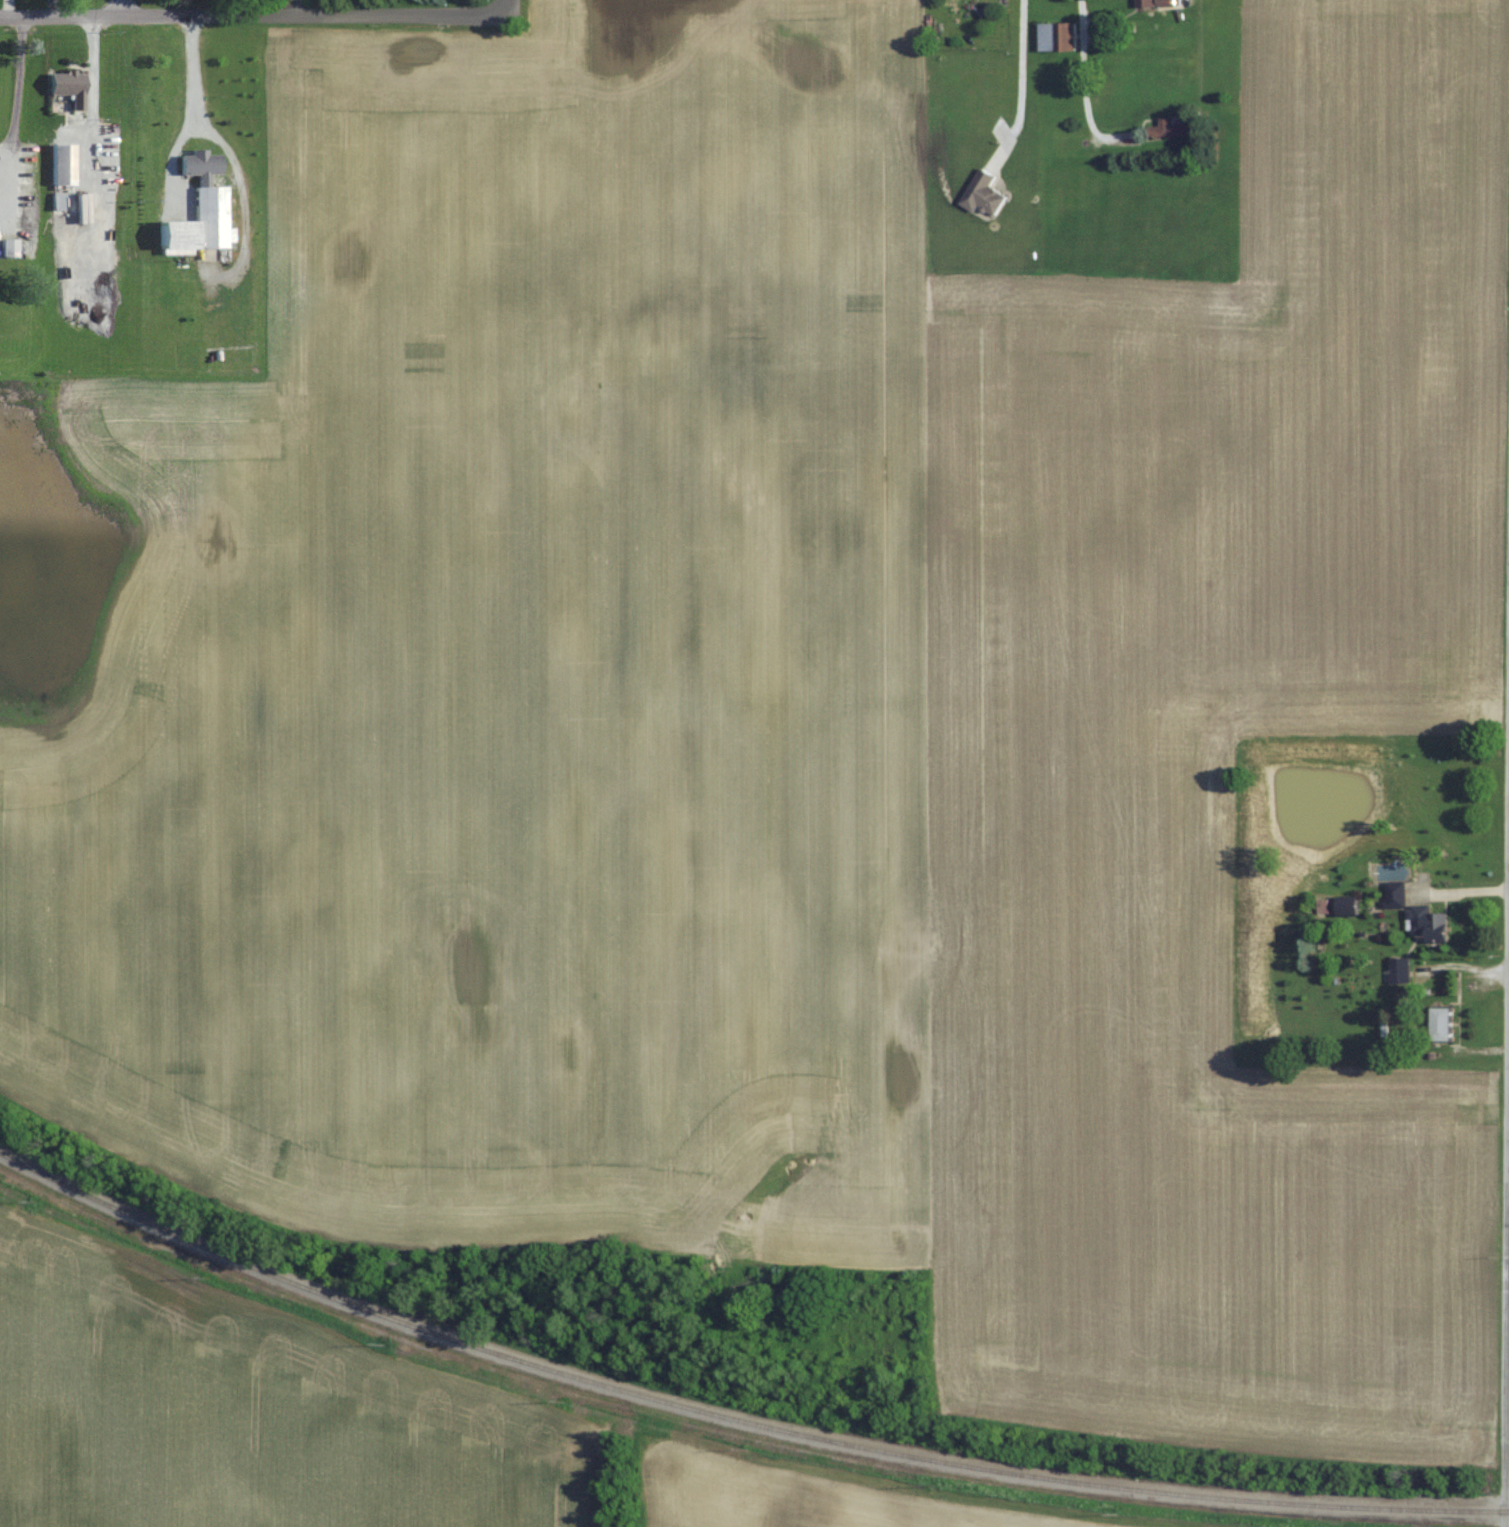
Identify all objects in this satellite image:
road: (124, 7)
road: (509, 7)
road: (254, 14)
building: (1056, 35)
road: (1017, 80)
road: (1082, 81)
building: (71, 86)
road: (92, 91)
road: (194, 114)
road: (14, 118)
building: (64, 162)
building: (986, 193)
road: (239, 198)
building: (201, 207)
building: (1349, 906)
building: (1430, 922)
building: (1402, 969)
building: (1445, 1023)
road: (1506, 1306)
railway: (732, 1419)

